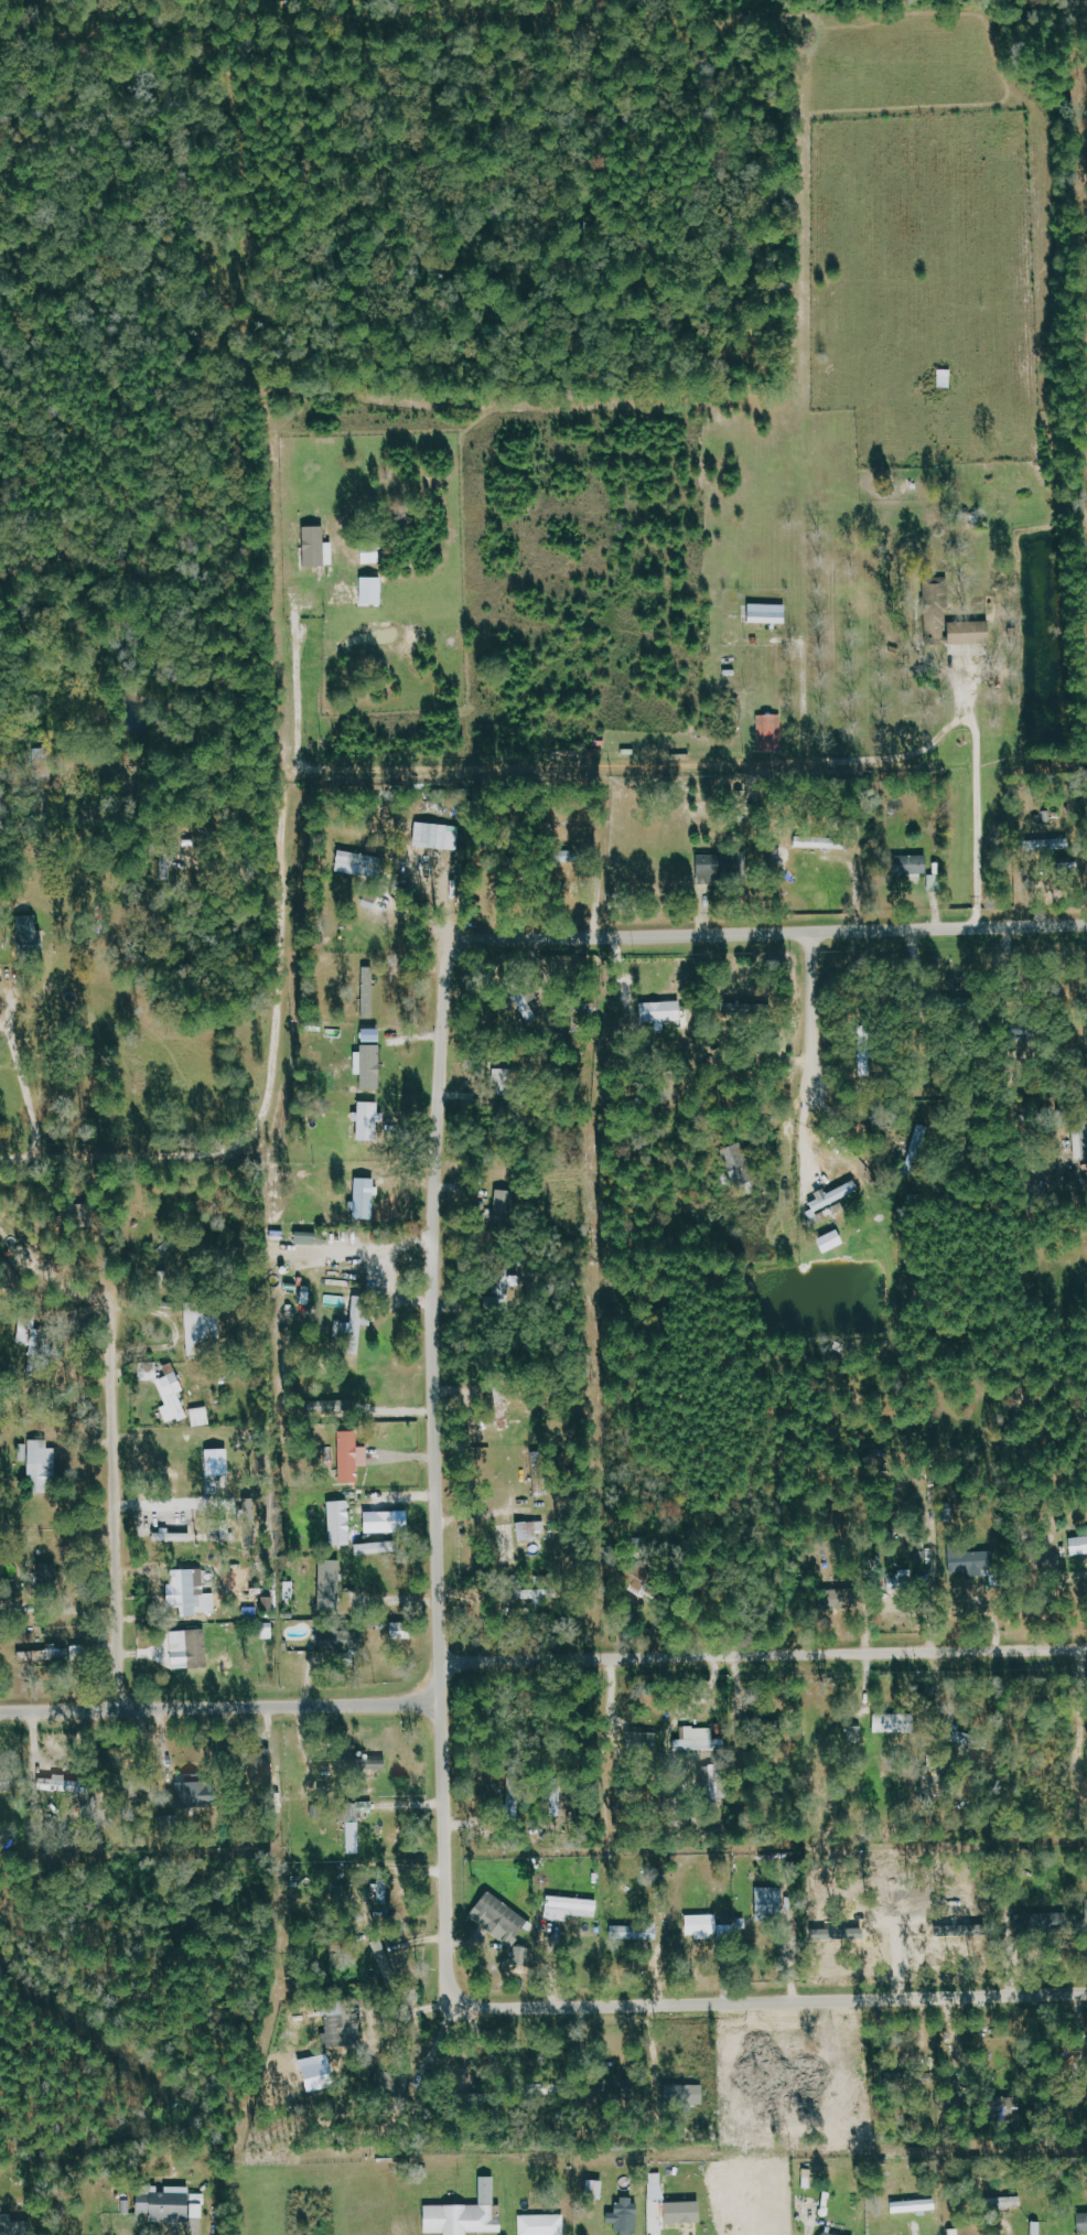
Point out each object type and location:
building: (320, 547)
building: (374, 555)
building: (375, 590)
building: (938, 608)
building: (772, 613)
building: (973, 633)
road: (298, 676)
building: (772, 733)
road: (331, 763)
road: (981, 796)
building: (439, 836)
building: (824, 842)
building: (1054, 846)
building: (362, 864)
building: (915, 864)
building: (712, 871)
building: (31, 936)
building: (372, 976)
building: (370, 1004)
building: (528, 1008)
building: (664, 1013)
road: (815, 1013)
building: (375, 1035)
road: (20, 1063)
building: (372, 1066)
building: (370, 1121)
road: (800, 1141)
building: (917, 1145)
building: (1085, 1148)
road: (33, 1158)
building: (740, 1165)
building: (367, 1199)
building: (505, 1206)
building: (309, 1238)
building: (835, 1242)
building: (505, 1292)
building: (359, 1317)
building: (204, 1329)
building: (33, 1340)
building: (174, 1396)
building: (203, 1417)
building: (219, 1454)
building: (352, 1457)
building: (42, 1464)
building: (220, 1471)
building: (541, 1474)
road: (437, 1475)
road: (115, 1502)
building: (342, 1524)
building: (388, 1524)
building: (534, 1530)
building: (175, 1537)
building: (510, 1546)
building: (1079, 1546)
building: (380, 1548)
building: (964, 1557)
building: (334, 1569)
building: (53, 1576)
building: (333, 1593)
building: (539, 1595)
road: (390, 1599)
building: (403, 1631)
building: (344, 1641)
building: (191, 1650)
building: (52, 1655)
road: (765, 1656)
road: (222, 1708)
building: (896, 1723)
building: (701, 1740)
building: (267, 1767)
building: (3, 1782)
building: (714, 1782)
building: (202, 1795)
building: (516, 1797)
building: (356, 1838)
building: (385, 1891)
building: (772, 1903)
building: (572, 1909)
building: (502, 1920)
building: (1053, 1921)
building: (711, 1928)
building: (637, 1934)
building: (590, 1945)
building: (389, 1968)
building: (338, 2019)
building: (687, 2095)
building: (598, 2189)
building: (1012, 2202)
building: (173, 2205)
building: (917, 2206)
building: (469, 2214)
building: (688, 2214)
building: (627, 2217)
building: (1083, 2223)
building: (543, 2225)
building: (1040, 2228)
building: (657, 2232)
building: (957, 2232)
building: (828, 2234)

